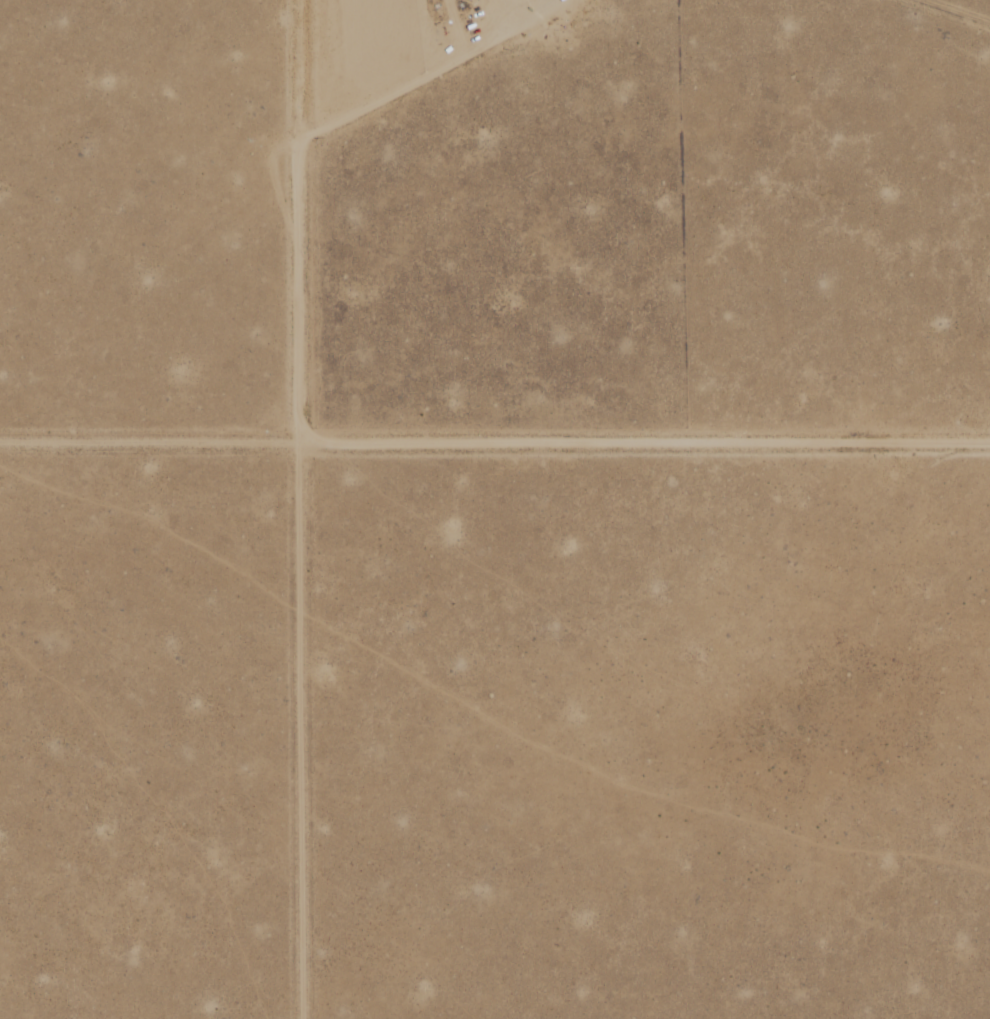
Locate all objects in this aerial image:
road: (952, 12)
road: (492, 18)
road: (536, 19)
road: (401, 88)
road: (495, 443)
road: (299, 509)

